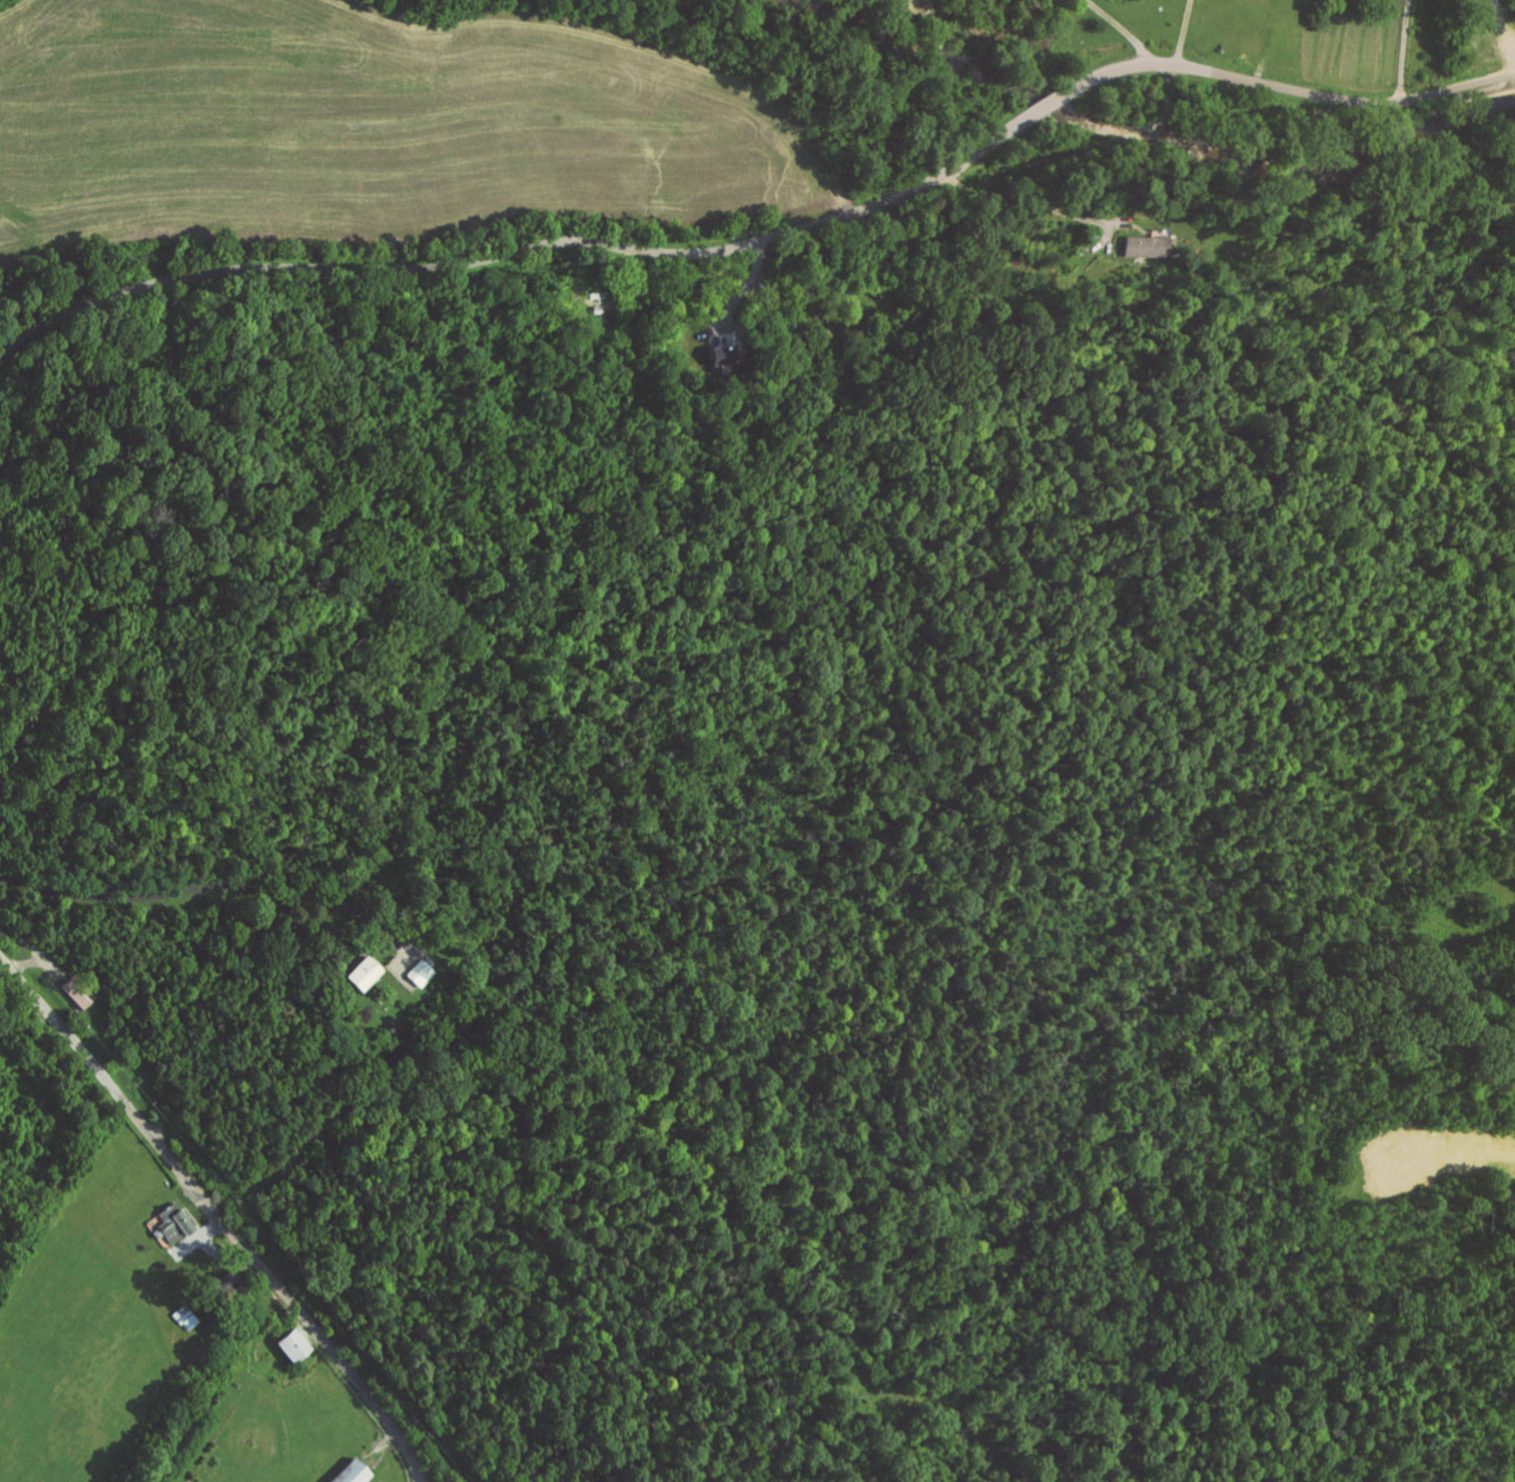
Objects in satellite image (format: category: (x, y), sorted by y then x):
road: (1123, 29)
road: (1184, 34)
road: (1506, 38)
road: (1265, 41)
road: (1512, 49)
road: (1406, 50)
road: (1292, 90)
road: (1051, 102)
road: (1034, 203)
building: (1145, 246)
road: (521, 250)
building: (721, 354)
building: (730, 368)
road: (185, 845)
building: (361, 973)
building: (417, 973)
building: (79, 993)
road: (217, 1215)
building: (170, 1224)
building: (225, 1285)
building: (291, 1346)
building: (349, 1473)

